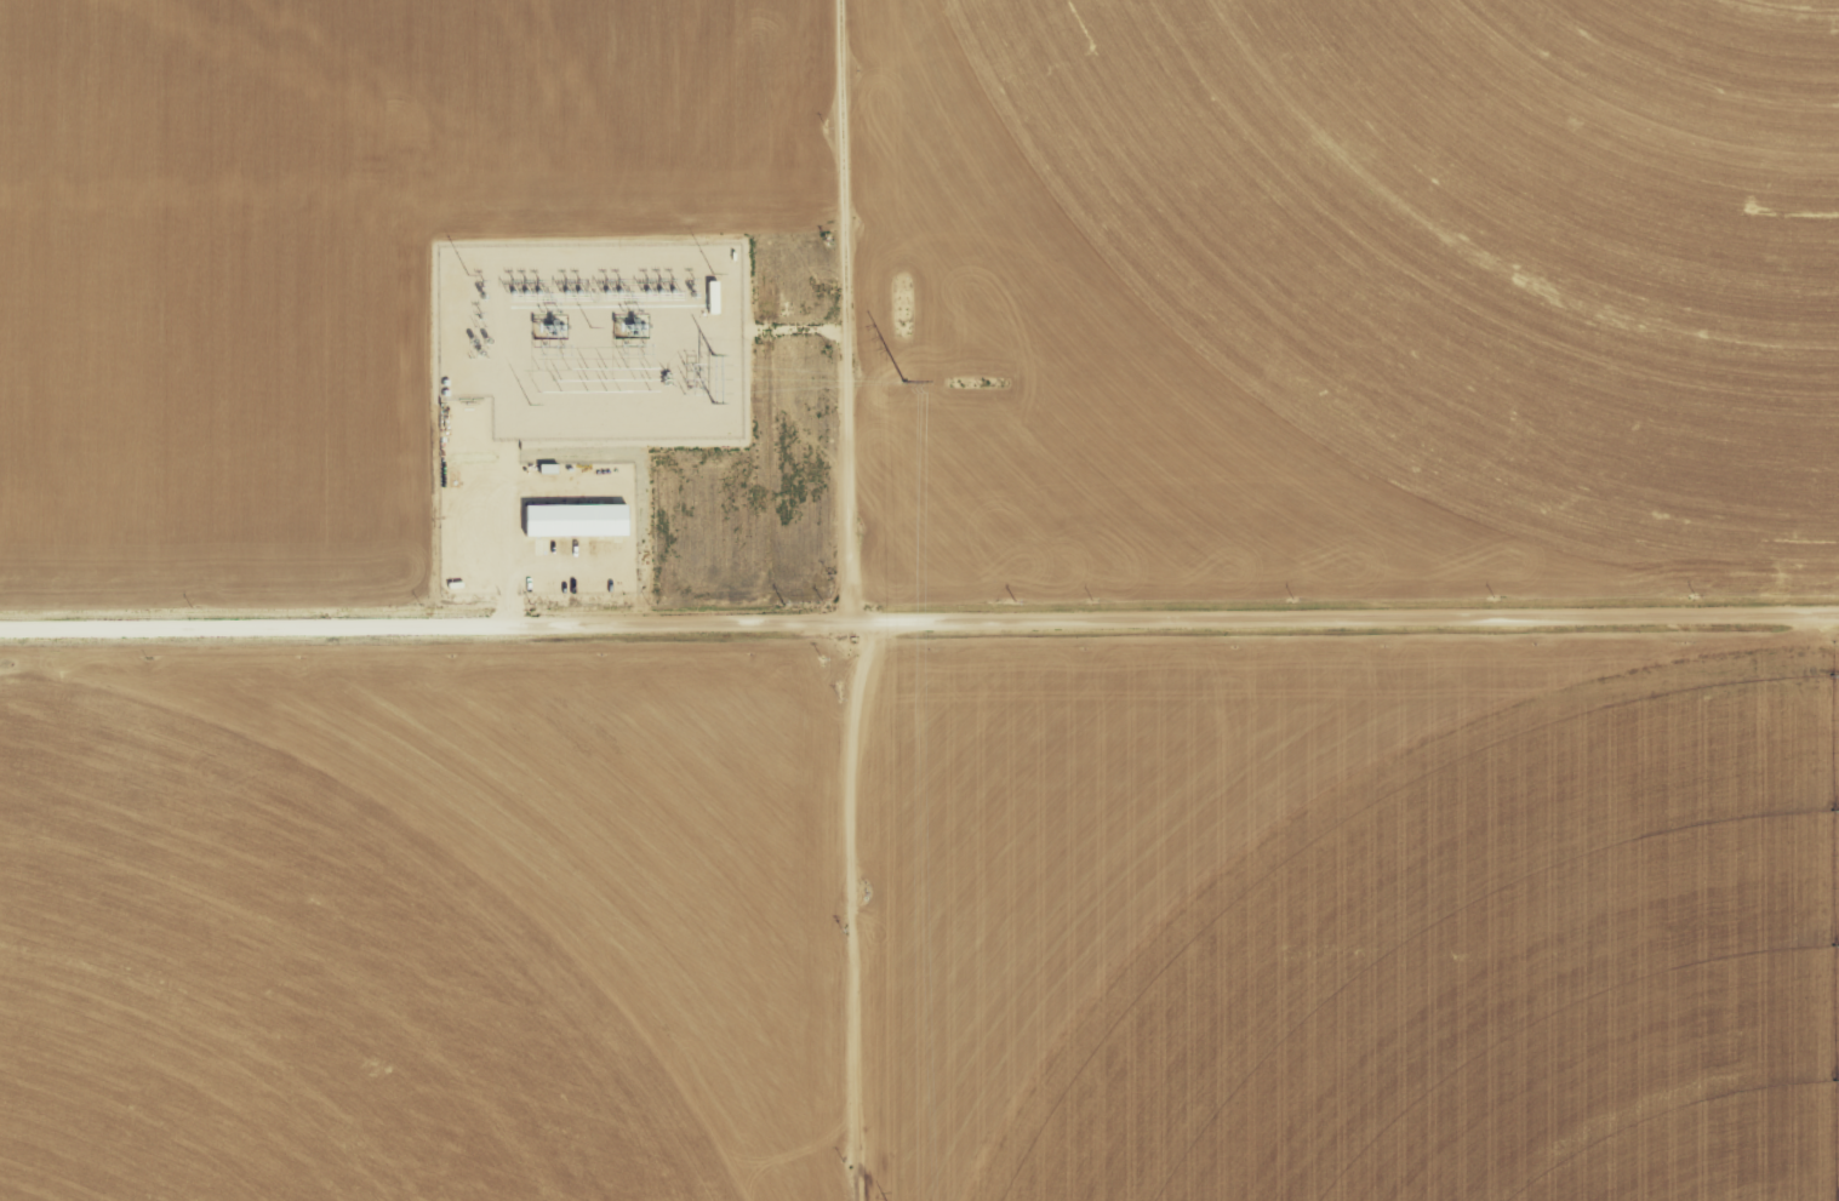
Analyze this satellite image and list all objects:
power substation: (594, 339)
power tower: (903, 382)
building: (581, 520)
road: (919, 618)

